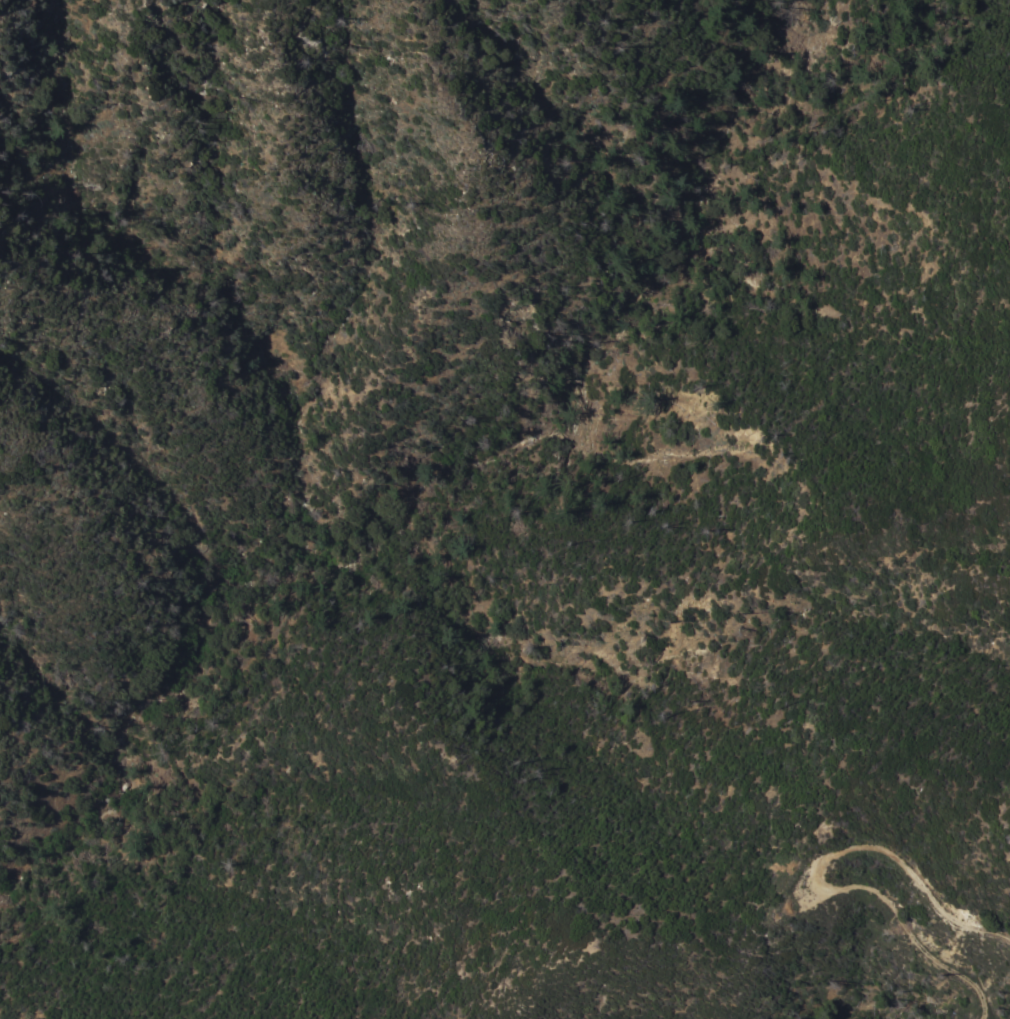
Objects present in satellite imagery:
road: (817, 886)

